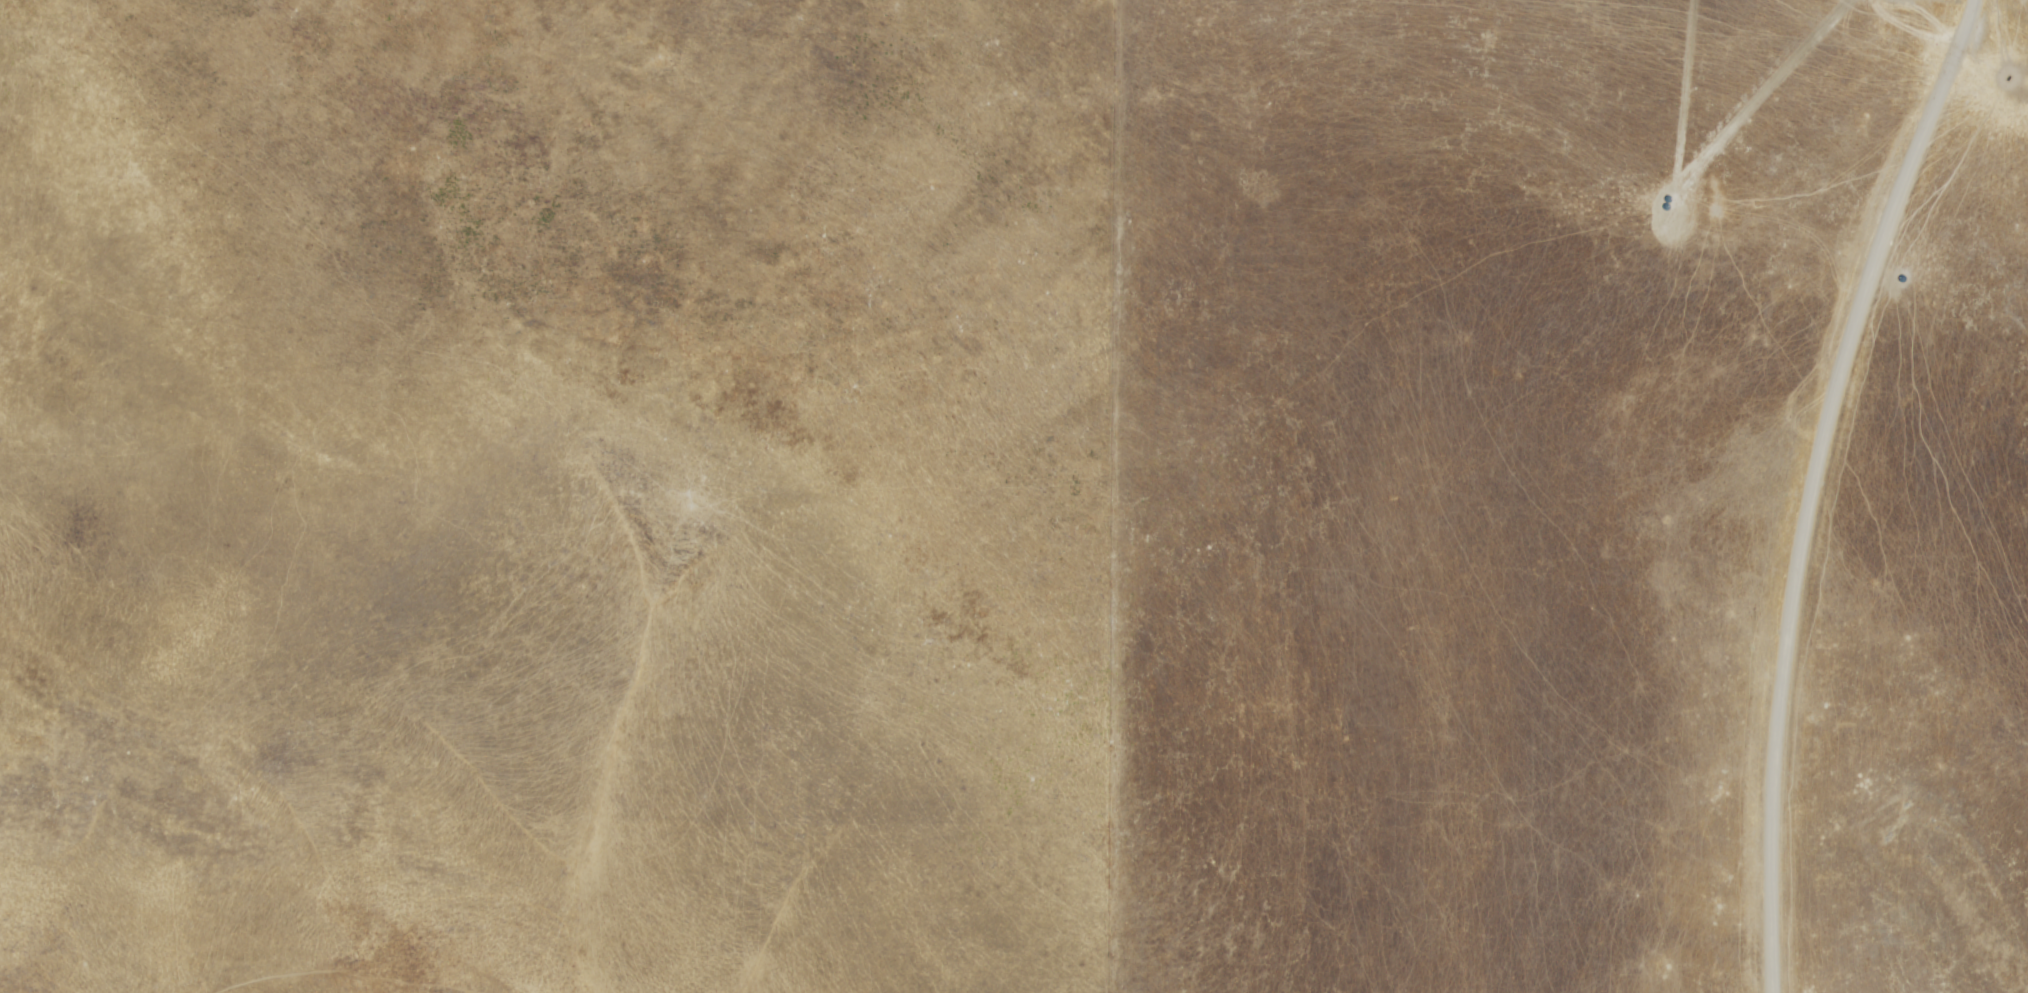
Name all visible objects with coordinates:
road: (1828, 477)

